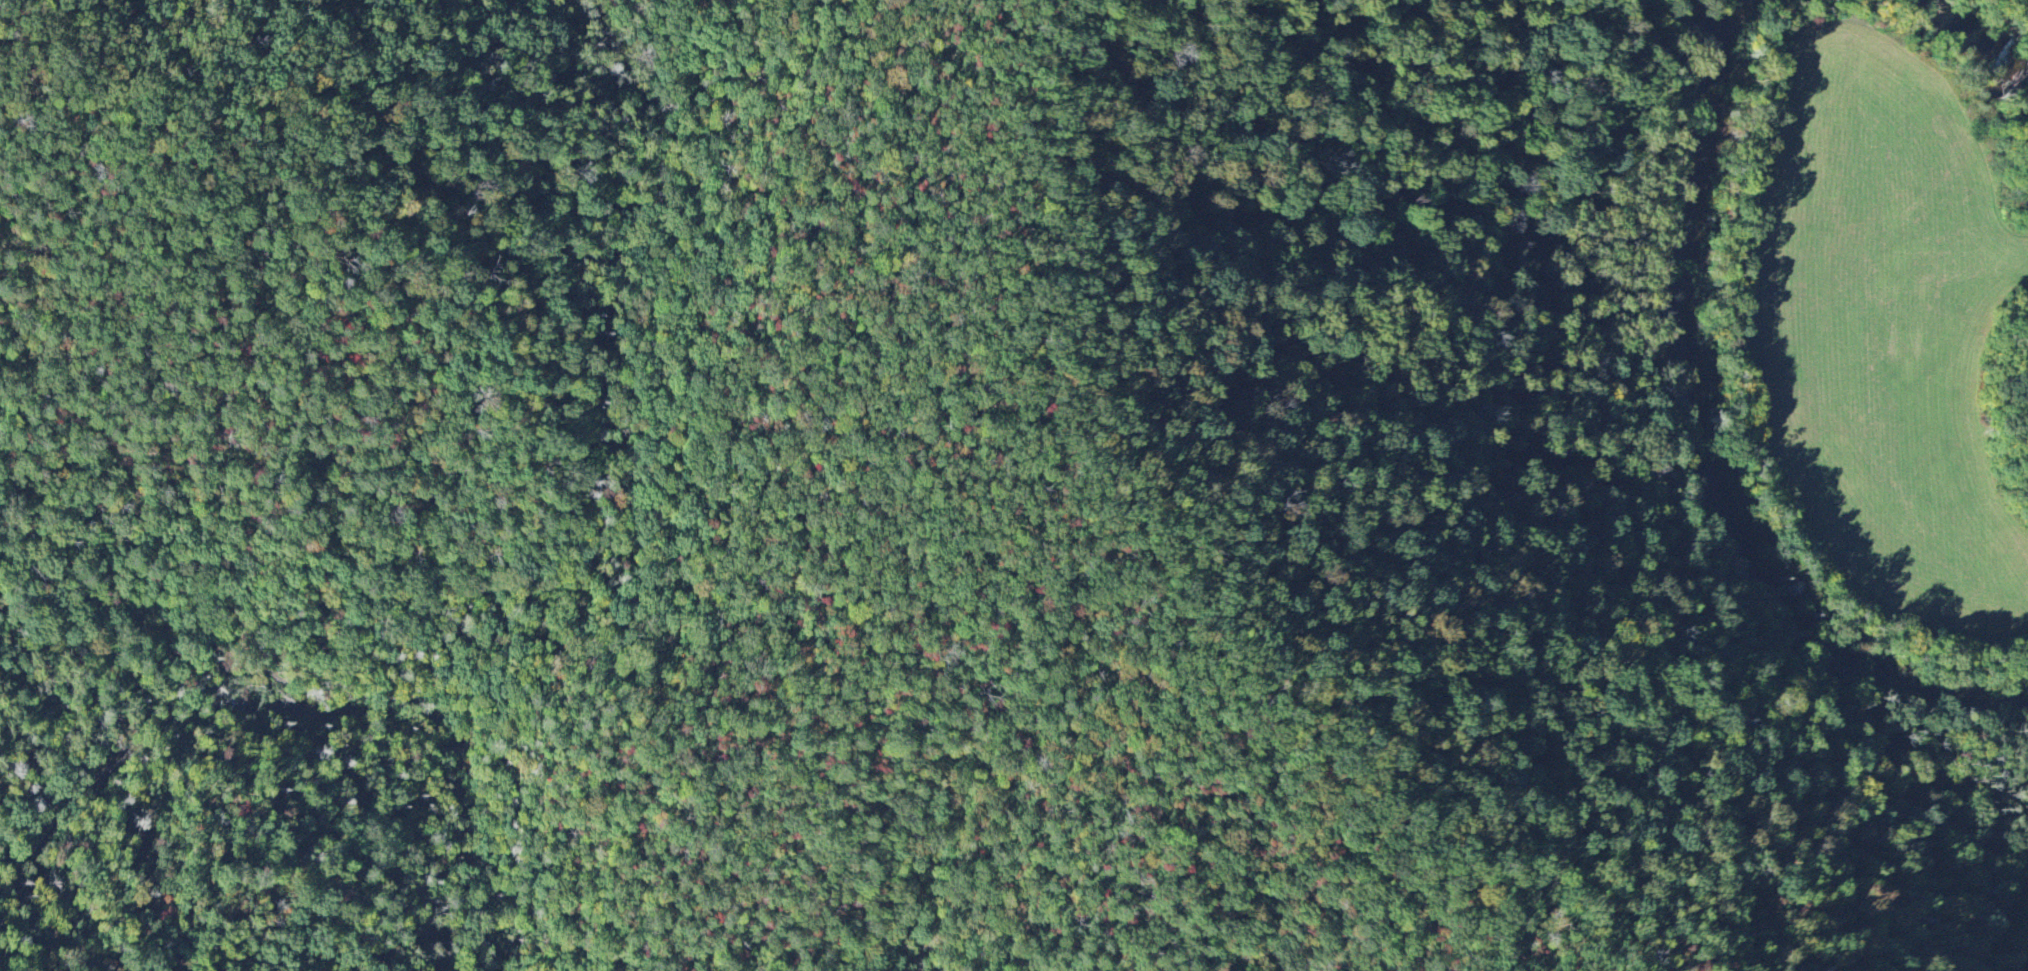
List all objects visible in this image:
river: (1957, 9)
river: (1993, 47)
river: (1698, 439)
road: (304, 701)

